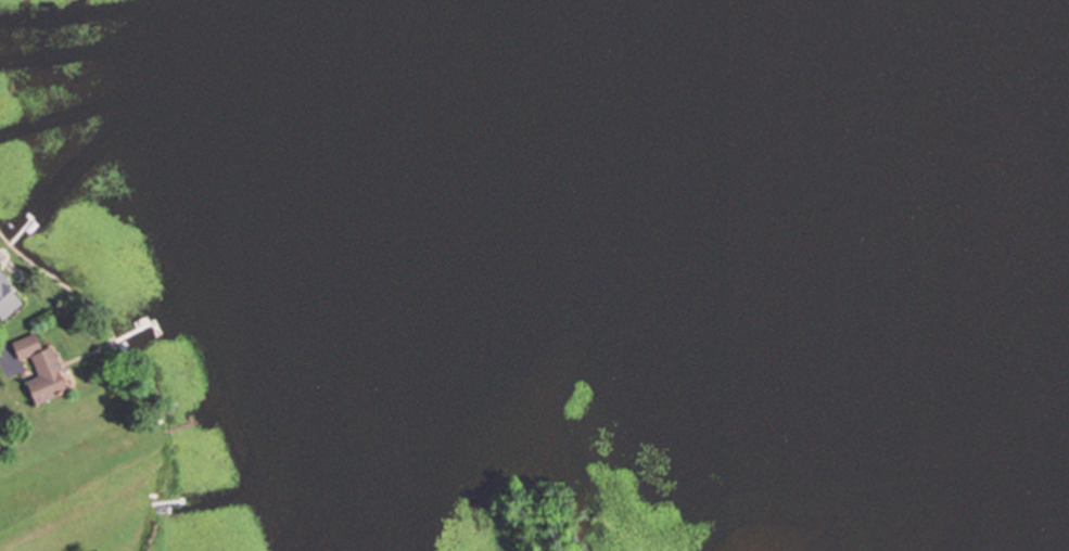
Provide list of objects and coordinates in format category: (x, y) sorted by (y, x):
building: (7, 299)
building: (39, 369)

